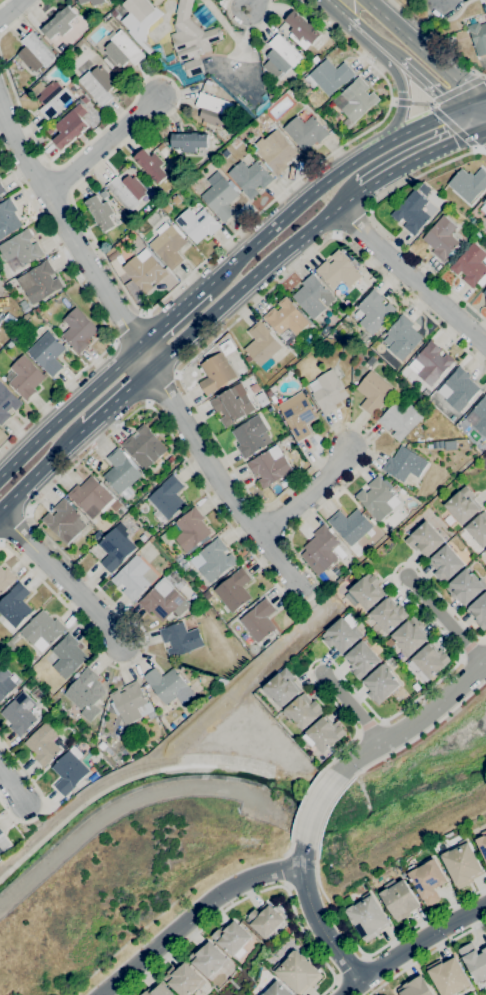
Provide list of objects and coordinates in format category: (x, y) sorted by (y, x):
road: (442, 0)
building: (92, 1)
road: (2, 2)
road: (251, 3)
road: (337, 7)
road: (10, 8)
road: (336, 10)
building: (114, 14)
road: (19, 17)
building: (485, 17)
road: (246, 18)
building: (139, 20)
road: (444, 20)
road: (423, 21)
building: (59, 22)
road: (248, 27)
building: (301, 30)
road: (374, 37)
building: (478, 37)
building: (191, 40)
road: (434, 41)
building: (120, 50)
road: (421, 50)
building: (34, 53)
building: (55, 54)
building: (281, 57)
building: (315, 59)
building: (170, 62)
road: (394, 73)
road: (243, 74)
building: (328, 76)
building: (208, 82)
building: (97, 84)
road: (428, 84)
building: (77, 90)
building: (52, 98)
building: (355, 101)
road: (481, 101)
traffic signals: (476, 103)
road: (466, 106)
building: (213, 109)
traffic signals: (457, 109)
road: (481, 114)
road: (471, 118)
building: (264, 119)
building: (280, 121)
building: (69, 128)
building: (49, 130)
building: (305, 131)
building: (254, 138)
building: (188, 141)
building: (235, 142)
road: (102, 145)
building: (159, 147)
building: (275, 151)
road: (425, 152)
building: (150, 165)
building: (250, 177)
building: (169, 181)
building: (468, 184)
road: (320, 185)
building: (423, 185)
building: (1, 189)
building: (127, 190)
building: (103, 194)
building: (220, 198)
building: (153, 199)
building: (174, 199)
building: (484, 206)
building: (165, 207)
building: (138, 212)
building: (412, 212)
building: (100, 213)
building: (485, 217)
building: (7, 218)
road: (375, 222)
building: (197, 224)
building: (442, 238)
building: (168, 244)
building: (20, 248)
building: (115, 258)
road: (108, 262)
building: (470, 265)
building: (338, 269)
building: (144, 270)
road: (260, 276)
road: (410, 278)
building: (36, 283)
building: (484, 292)
building: (312, 296)
building: (26, 309)
building: (37, 310)
building: (374, 311)
road: (95, 313)
road: (172, 317)
building: (0, 319)
building: (285, 321)
road: (126, 326)
building: (312, 327)
building: (78, 330)
building: (324, 332)
building: (401, 338)
building: (9, 344)
building: (261, 345)
building: (227, 347)
building: (348, 348)
road: (143, 350)
building: (47, 353)
building: (372, 362)
building: (432, 363)
building: (240, 371)
building: (215, 373)
building: (250, 376)
building: (25, 377)
building: (458, 389)
building: (327, 391)
building: (373, 392)
building: (425, 392)
building: (269, 393)
road: (120, 402)
building: (264, 402)
building: (7, 403)
building: (232, 404)
road: (69, 409)
building: (479, 415)
building: (298, 416)
building: (400, 420)
building: (249, 436)
building: (435, 445)
building: (481, 446)
building: (143, 447)
building: (170, 459)
building: (404, 464)
building: (269, 466)
building: (120, 472)
road: (43, 474)
building: (395, 488)
road: (303, 492)
building: (92, 496)
building: (377, 498)
building: (166, 499)
building: (463, 505)
building: (449, 520)
building: (64, 521)
building: (350, 525)
building: (190, 529)
building: (478, 529)
building: (97, 535)
building: (425, 540)
building: (115, 547)
building: (485, 550)
building: (320, 551)
road: (294, 552)
building: (212, 560)
building: (445, 563)
building: (132, 578)
building: (5, 579)
road: (63, 580)
building: (464, 587)
building: (233, 590)
building: (365, 591)
building: (165, 600)
road: (412, 604)
building: (14, 607)
building: (479, 611)
building: (388, 615)
building: (259, 620)
road: (444, 620)
building: (42, 630)
building: (341, 635)
building: (409, 636)
building: (180, 639)
building: (68, 656)
building: (361, 659)
building: (430, 659)
building: (5, 683)
building: (381, 683)
building: (169, 686)
building: (282, 687)
building: (416, 687)
building: (83, 691)
building: (36, 693)
building: (130, 703)
building: (157, 705)
road: (351, 707)
building: (303, 711)
road: (341, 713)
building: (19, 714)
road: (414, 722)
building: (325, 734)
building: (43, 744)
building: (101, 745)
building: (94, 764)
building: (69, 771)
road: (11, 789)
road: (40, 795)
road: (313, 806)
building: (1, 832)
building: (3, 842)
building: (482, 843)
building: (1, 850)
road: (286, 853)
road: (316, 856)
building: (1, 857)
building: (462, 864)
road: (288, 868)
building: (427, 880)
road: (286, 885)
building: (399, 899)
road: (190, 915)
road: (314, 917)
building: (367, 917)
building: (264, 919)
road: (199, 930)
building: (230, 937)
road: (305, 937)
road: (412, 948)
road: (426, 955)
building: (207, 959)
building: (474, 962)
building: (298, 972)
building: (448, 976)
building: (183, 979)
road: (327, 987)
building: (415, 987)
building: (277, 989)
building: (158, 990)

